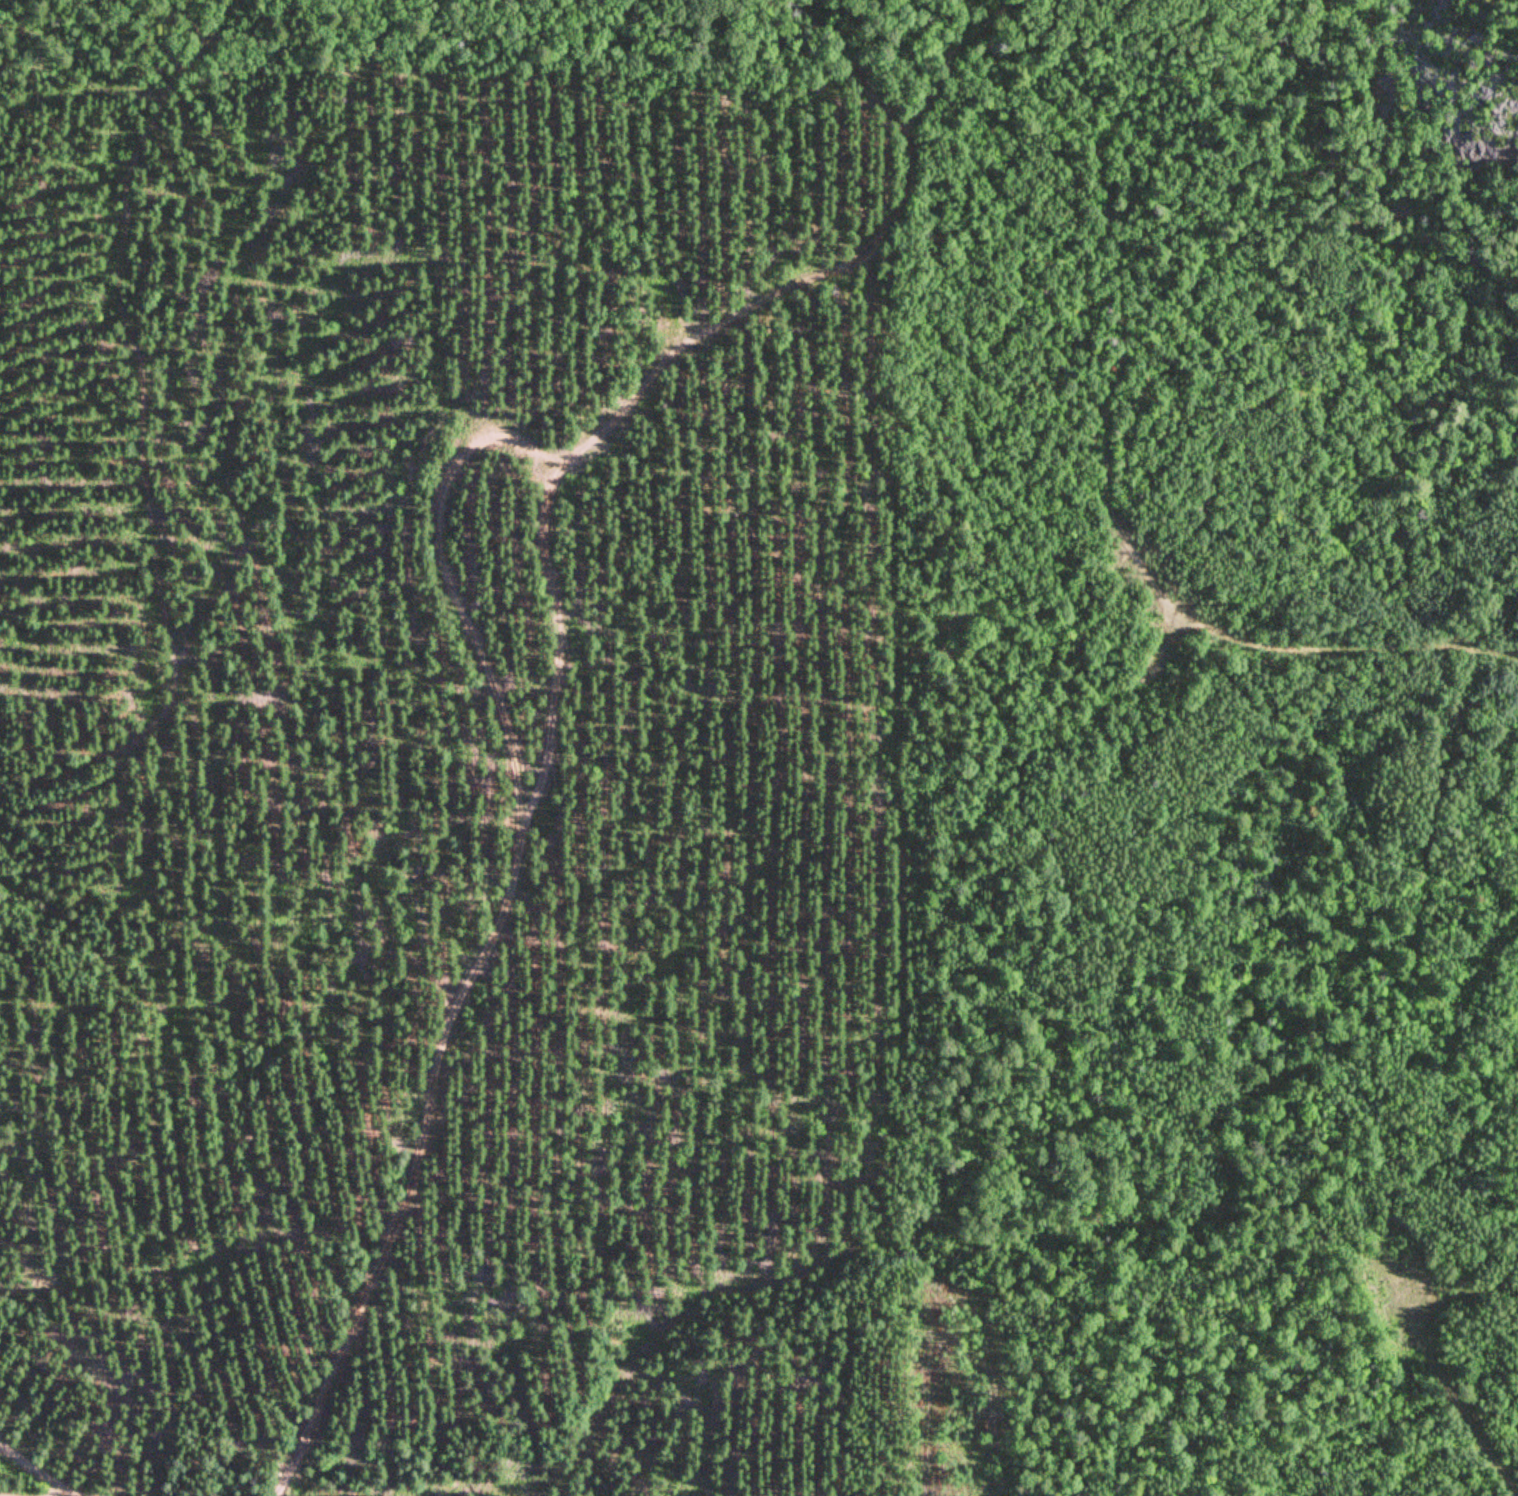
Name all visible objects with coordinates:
road: (829, 264)
road: (499, 428)
road: (141, 435)
road: (1106, 473)
road: (413, 1174)
road: (1459, 1405)
road: (35, 1471)

